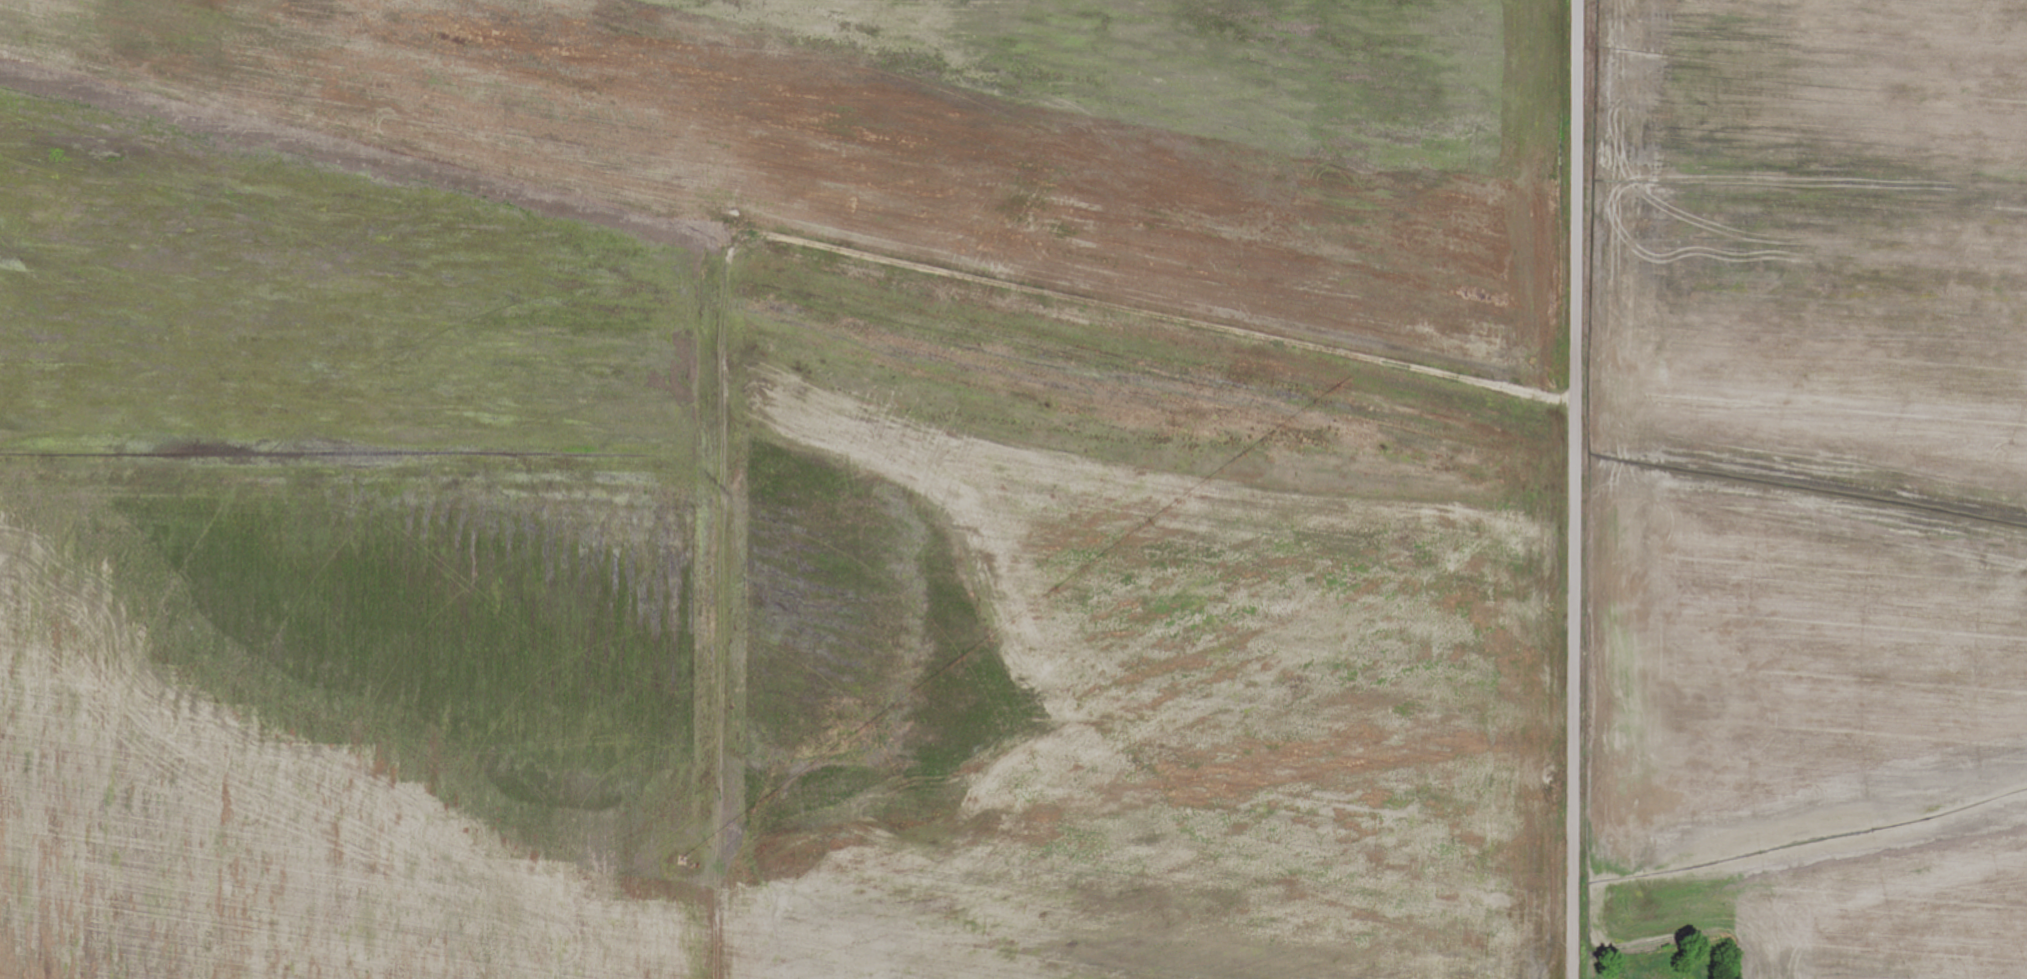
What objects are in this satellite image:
road: (1574, 489)

